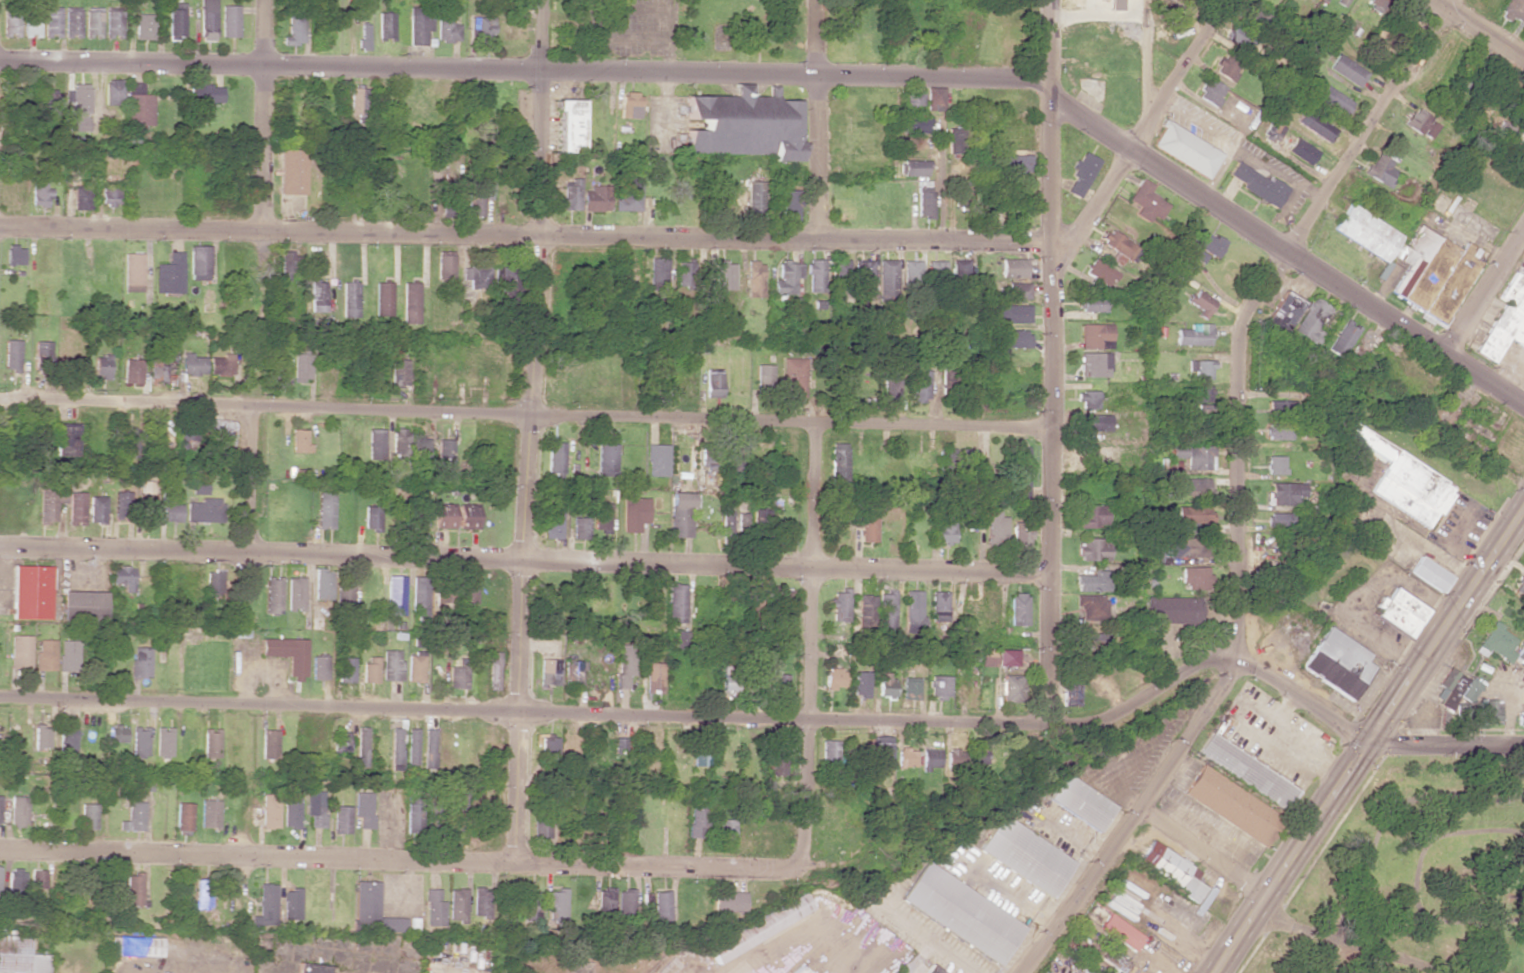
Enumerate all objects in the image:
building: (1340, 2)
building: (1379, 4)
building: (1180, 5)
building: (1513, 11)
building: (1255, 17)
building: (175, 20)
building: (207, 20)
building: (92, 21)
building: (229, 21)
building: (10, 22)
building: (30, 23)
building: (51, 23)
building: (71, 24)
building: (112, 24)
building: (418, 24)
building: (143, 26)
building: (384, 26)
building: (446, 27)
building: (480, 28)
road: (1476, 29)
building: (294, 30)
building: (1172, 33)
building: (363, 37)
building: (1238, 38)
road: (1146, 60)
building: (1226, 66)
road: (526, 69)
building: (1346, 70)
building: (113, 92)
building: (1210, 92)
building: (912, 99)
building: (933, 99)
building: (203, 100)
building: (1334, 100)
building: (358, 101)
building: (47, 102)
building: (138, 105)
building: (629, 105)
building: (79, 107)
road: (261, 115)
road: (821, 119)
building: (1421, 124)
building: (567, 125)
building: (744, 125)
building: (913, 125)
building: (1314, 126)
road: (1143, 127)
building: (1271, 132)
building: (954, 141)
building: (1183, 149)
building: (1301, 151)
building: (1013, 163)
building: (913, 166)
building: (1380, 170)
building: (289, 172)
building: (1080, 174)
road: (941, 184)
building: (1257, 185)
building: (922, 186)
building: (39, 193)
building: (570, 194)
building: (627, 195)
building: (109, 196)
building: (962, 196)
building: (754, 197)
building: (80, 198)
building: (476, 198)
building: (594, 199)
building: (1145, 202)
building: (450, 204)
building: (924, 204)
building: (790, 205)
road: (524, 234)
building: (1207, 243)
building: (1116, 247)
road: (1284, 249)
building: (13, 255)
building: (1415, 261)
building: (198, 263)
building: (287, 265)
building: (444, 266)
building: (960, 266)
building: (1012, 268)
building: (840, 270)
building: (936, 270)
building: (911, 271)
building: (132, 272)
building: (657, 273)
building: (684, 273)
building: (863, 273)
building: (169, 274)
building: (1100, 274)
building: (724, 275)
building: (816, 275)
building: (476, 277)
building: (787, 277)
building: (754, 279)
building: (887, 279)
road: (1485, 291)
building: (316, 295)
building: (349, 299)
building: (382, 299)
road: (1258, 302)
building: (409, 303)
building: (1200, 303)
building: (1091, 304)
building: (1283, 312)
building: (1010, 314)
building: (1311, 321)
building: (1505, 321)
building: (1194, 335)
building: (1095, 336)
building: (1343, 338)
building: (1016, 339)
building: (41, 351)
building: (10, 355)
road: (1050, 362)
building: (1094, 364)
building: (191, 365)
building: (100, 366)
building: (301, 367)
building: (1201, 369)
building: (160, 370)
building: (131, 371)
building: (280, 372)
building: (399, 372)
building: (793, 377)
building: (763, 378)
building: (712, 383)
building: (920, 386)
building: (890, 389)
building: (1198, 393)
building: (1087, 400)
building: (1282, 409)
road: (525, 416)
building: (1094, 423)
road: (526, 432)
building: (1277, 432)
building: (217, 434)
building: (184, 436)
building: (65, 439)
building: (299, 441)
building: (127, 443)
building: (375, 444)
building: (410, 447)
building: (444, 448)
building: (1095, 454)
building: (1194, 456)
building: (555, 457)
building: (708, 459)
building: (605, 460)
building: (657, 460)
building: (838, 462)
building: (969, 462)
building: (1275, 465)
building: (1020, 473)
building: (1404, 481)
building: (197, 486)
building: (1194, 486)
building: (1285, 493)
building: (145, 501)
building: (49, 503)
building: (120, 507)
building: (74, 508)
building: (95, 509)
building: (325, 509)
building: (203, 510)
building: (414, 511)
building: (169, 513)
building: (633, 514)
building: (679, 514)
building: (1193, 514)
building: (443, 516)
building: (1092, 516)
building: (372, 517)
building: (601, 517)
building: (468, 518)
building: (1278, 520)
building: (552, 521)
building: (732, 522)
building: (993, 523)
building: (579, 528)
building: (867, 528)
building: (943, 531)
building: (783, 533)
building: (1022, 535)
building: (1185, 547)
building: (1092, 550)
road: (524, 562)
building: (1523, 565)
building: (1429, 574)
building: (122, 577)
building: (1194, 578)
building: (1093, 581)
building: (213, 582)
building: (322, 584)
building: (1518, 585)
building: (30, 592)
building: (295, 592)
building: (468, 594)
building: (273, 595)
building: (394, 595)
building: (419, 595)
building: (345, 598)
building: (675, 603)
building: (839, 604)
building: (81, 605)
building: (939, 606)
building: (864, 607)
building: (1093, 607)
building: (886, 609)
building: (1018, 609)
building: (912, 610)
building: (1172, 610)
building: (1400, 612)
building: (315, 622)
road: (1446, 626)
road: (243, 631)
building: (682, 639)
building: (1091, 642)
building: (1493, 643)
road: (808, 647)
building: (19, 652)
building: (286, 654)
building: (44, 655)
building: (67, 655)
building: (1519, 655)
building: (998, 657)
building: (140, 662)
building: (1337, 663)
building: (624, 664)
building: (392, 665)
building: (318, 668)
building: (414, 668)
building: (370, 669)
building: (344, 670)
building: (493, 670)
building: (548, 672)
building: (573, 674)
building: (458, 676)
building: (652, 678)
building: (835, 678)
building: (779, 683)
building: (861, 684)
building: (910, 685)
building: (939, 685)
building: (886, 686)
building: (1012, 688)
building: (1453, 690)
building: (1070, 693)
road: (1140, 697)
road: (1300, 700)
building: (1486, 711)
road: (522, 713)
building: (1519, 718)
building: (115, 734)
building: (40, 737)
building: (65, 741)
building: (138, 742)
building: (162, 742)
building: (210, 742)
building: (339, 743)
building: (269, 744)
traffic signals: (1368, 744)
road: (1446, 744)
building: (547, 745)
building: (411, 746)
building: (361, 747)
building: (395, 749)
building: (429, 749)
building: (831, 753)
building: (881, 754)
building: (953, 756)
building: (906, 757)
building: (931, 759)
building: (776, 760)
building: (1246, 771)
building: (143, 784)
building: (1080, 802)
building: (1231, 806)
building: (315, 808)
building: (363, 809)
building: (17, 810)
building: (458, 810)
building: (269, 812)
building: (209, 813)
building: (291, 813)
building: (87, 816)
building: (132, 817)
building: (182, 817)
building: (413, 817)
road: (1134, 818)
building: (341, 820)
building: (540, 822)
building: (695, 822)
building: (726, 830)
road: (1202, 854)
building: (1024, 856)
road: (1290, 859)
road: (400, 861)
building: (1172, 869)
park: (1414, 877)
building: (36, 879)
building: (13, 885)
building: (133, 889)
building: (203, 894)
building: (729, 901)
building: (480, 902)
building: (606, 902)
building: (290, 904)
building: (625, 904)
building: (265, 905)
building: (456, 905)
building: (661, 905)
building: (530, 906)
building: (555, 906)
building: (434, 908)
building: (372, 911)
building: (961, 913)
building: (759, 928)
building: (1120, 932)
road: (1351, 943)
building: (134, 946)
road: (938, 952)
building: (19, 955)
building: (313, 968)
building: (931, 969)
building: (799, 970)
building: (1110, 971)

